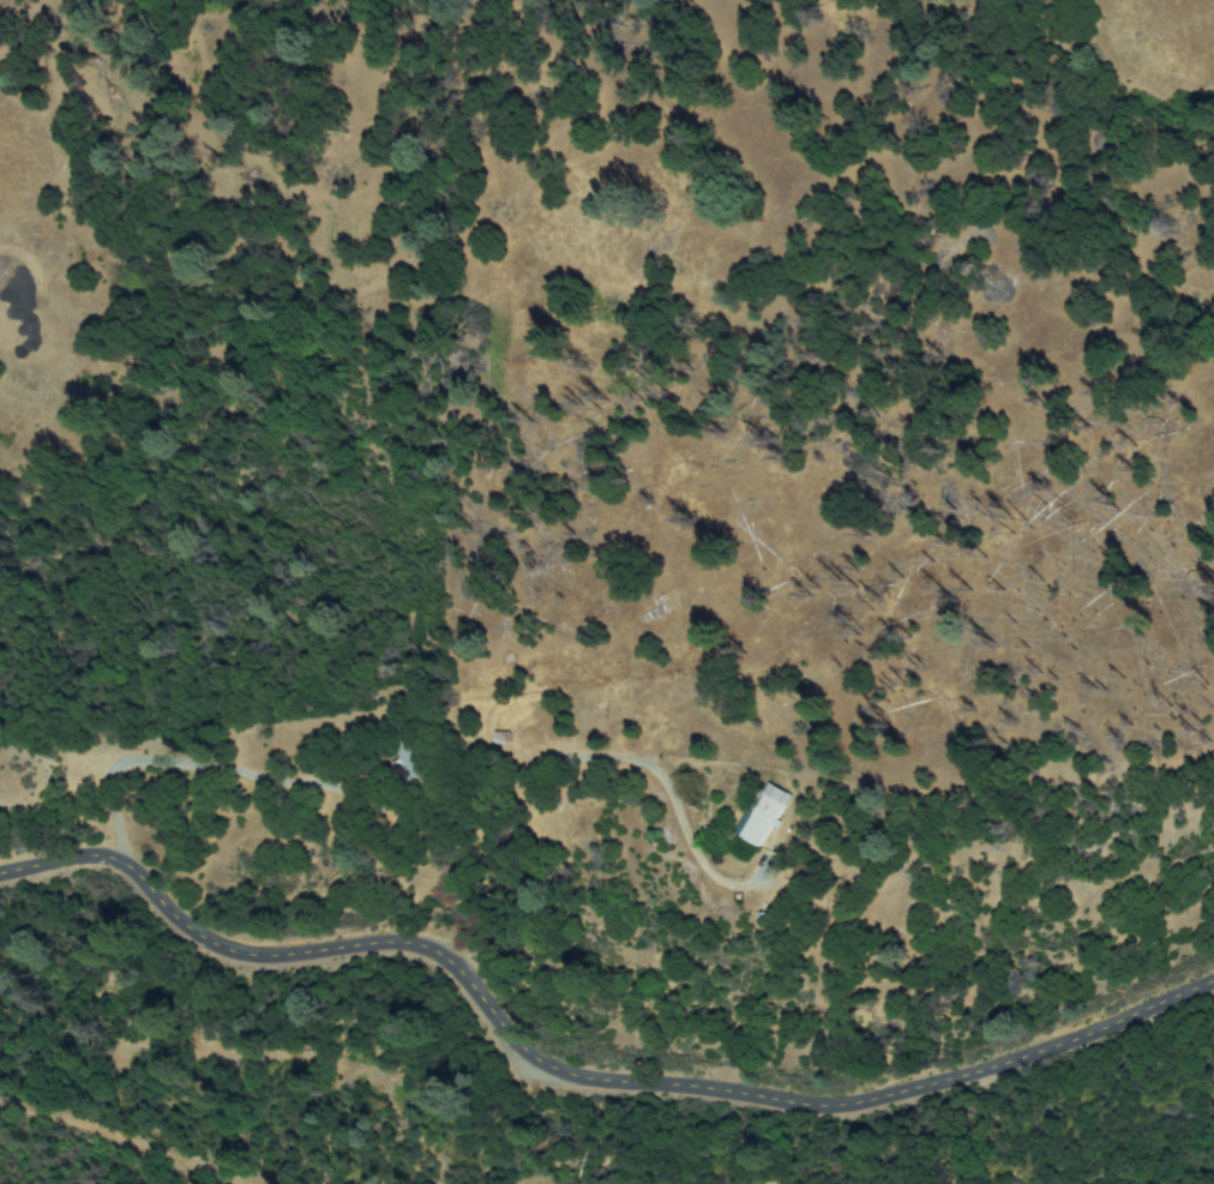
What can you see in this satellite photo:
building: (409, 751)
building: (768, 816)
road: (573, 1075)

